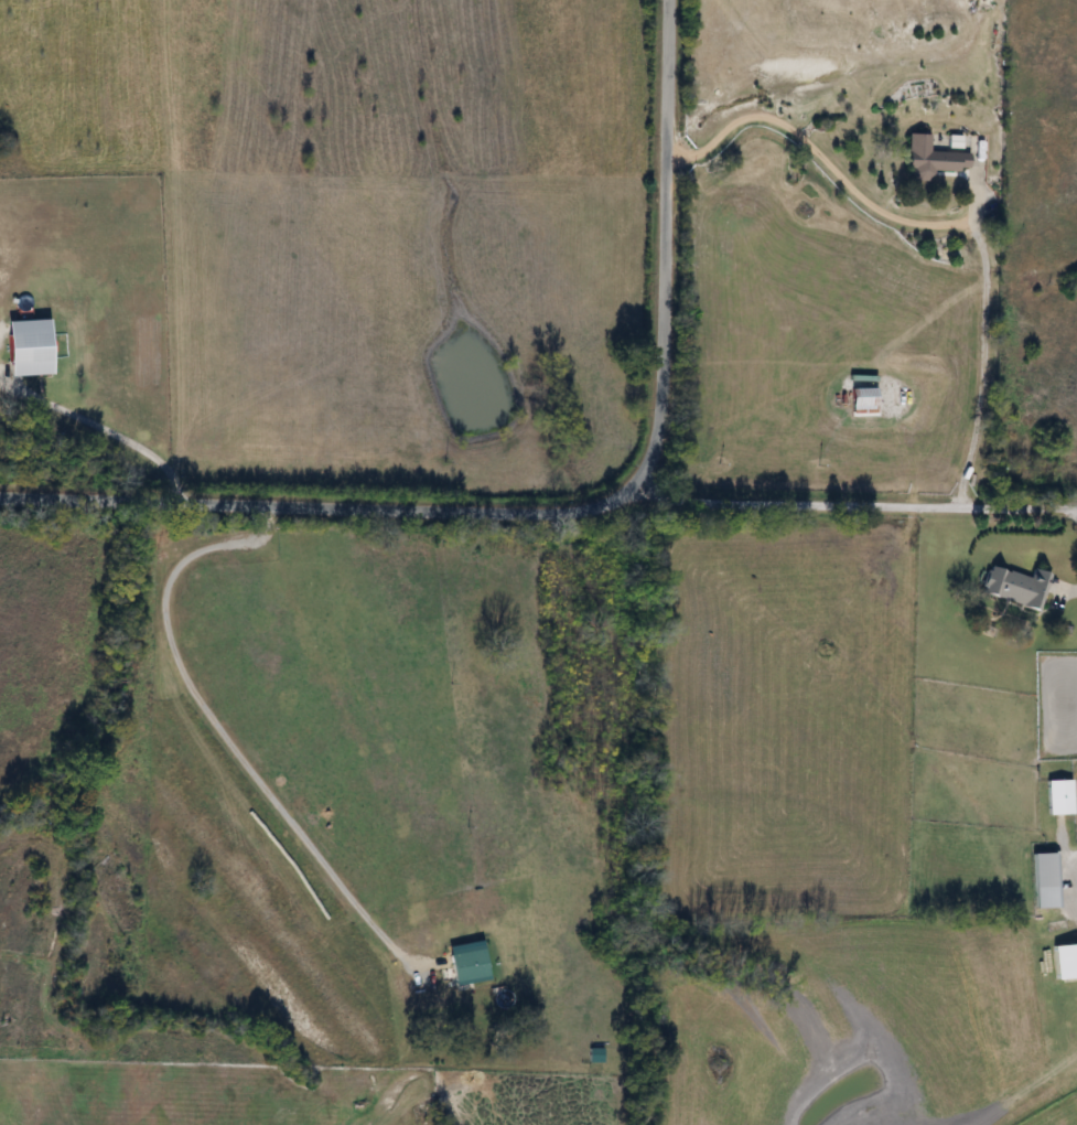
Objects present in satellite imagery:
building: (929, 159)
road: (938, 219)
road: (666, 246)
building: (24, 349)
building: (860, 400)
road: (107, 432)
road: (852, 503)
road: (320, 506)
building: (1013, 588)
road: (224, 727)
building: (1057, 797)
building: (1040, 881)
airport hangar: (1063, 960)
building: (1063, 962)

